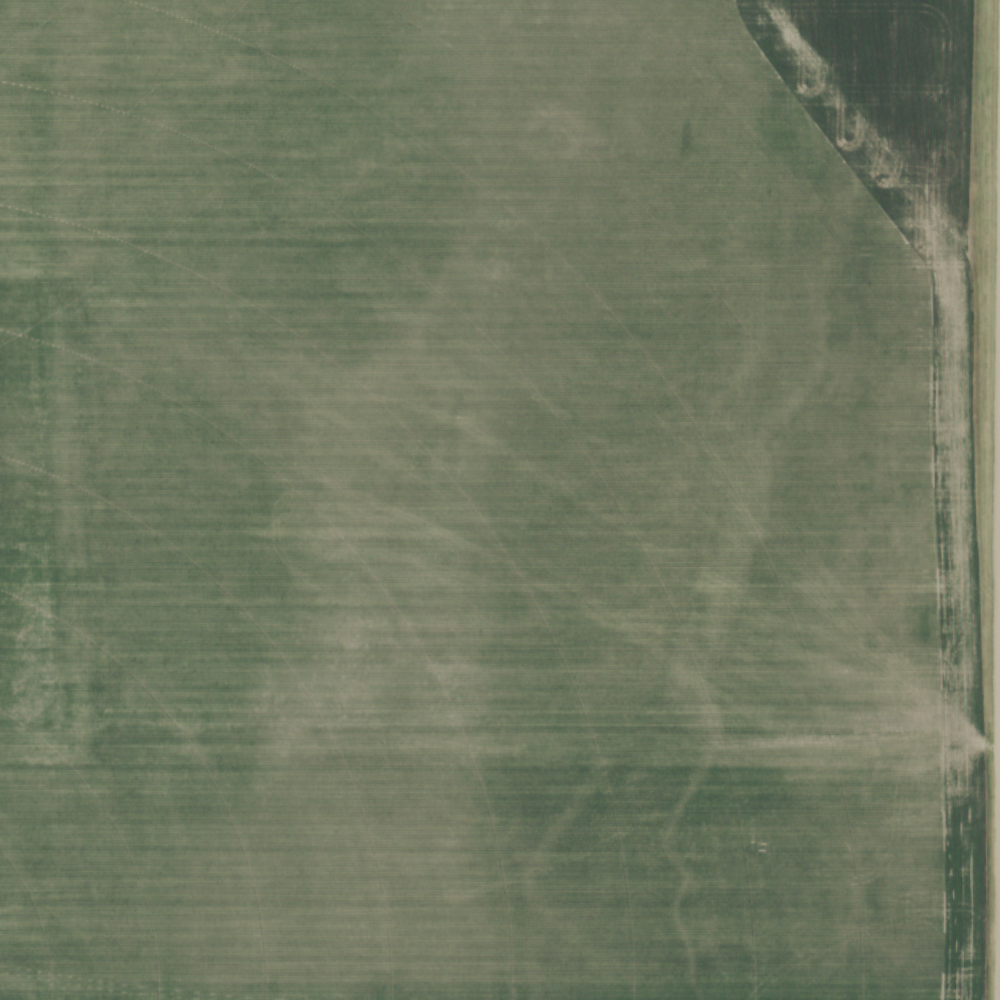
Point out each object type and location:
road: (997, 524)

